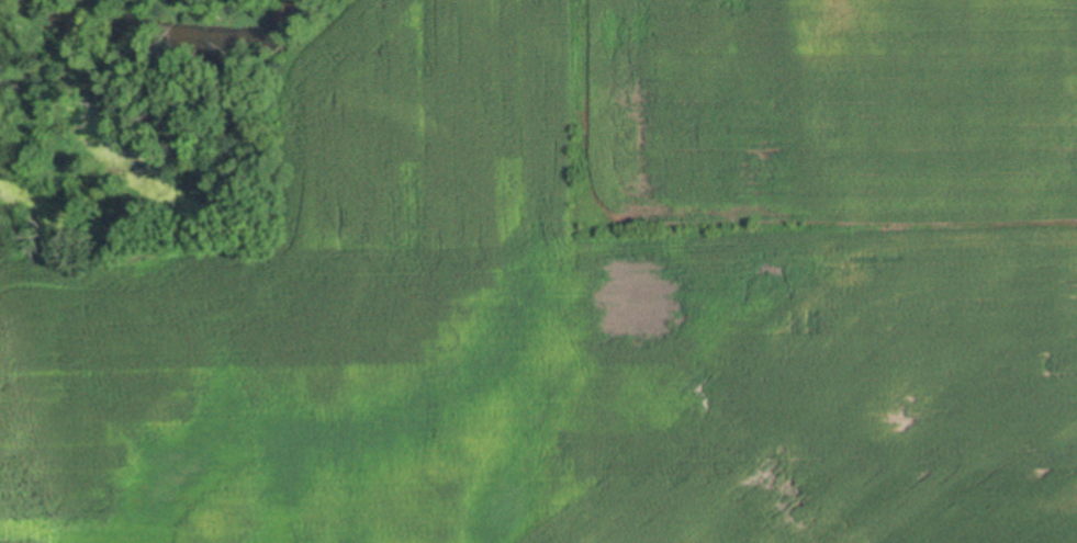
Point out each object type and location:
river: (130, 10)

